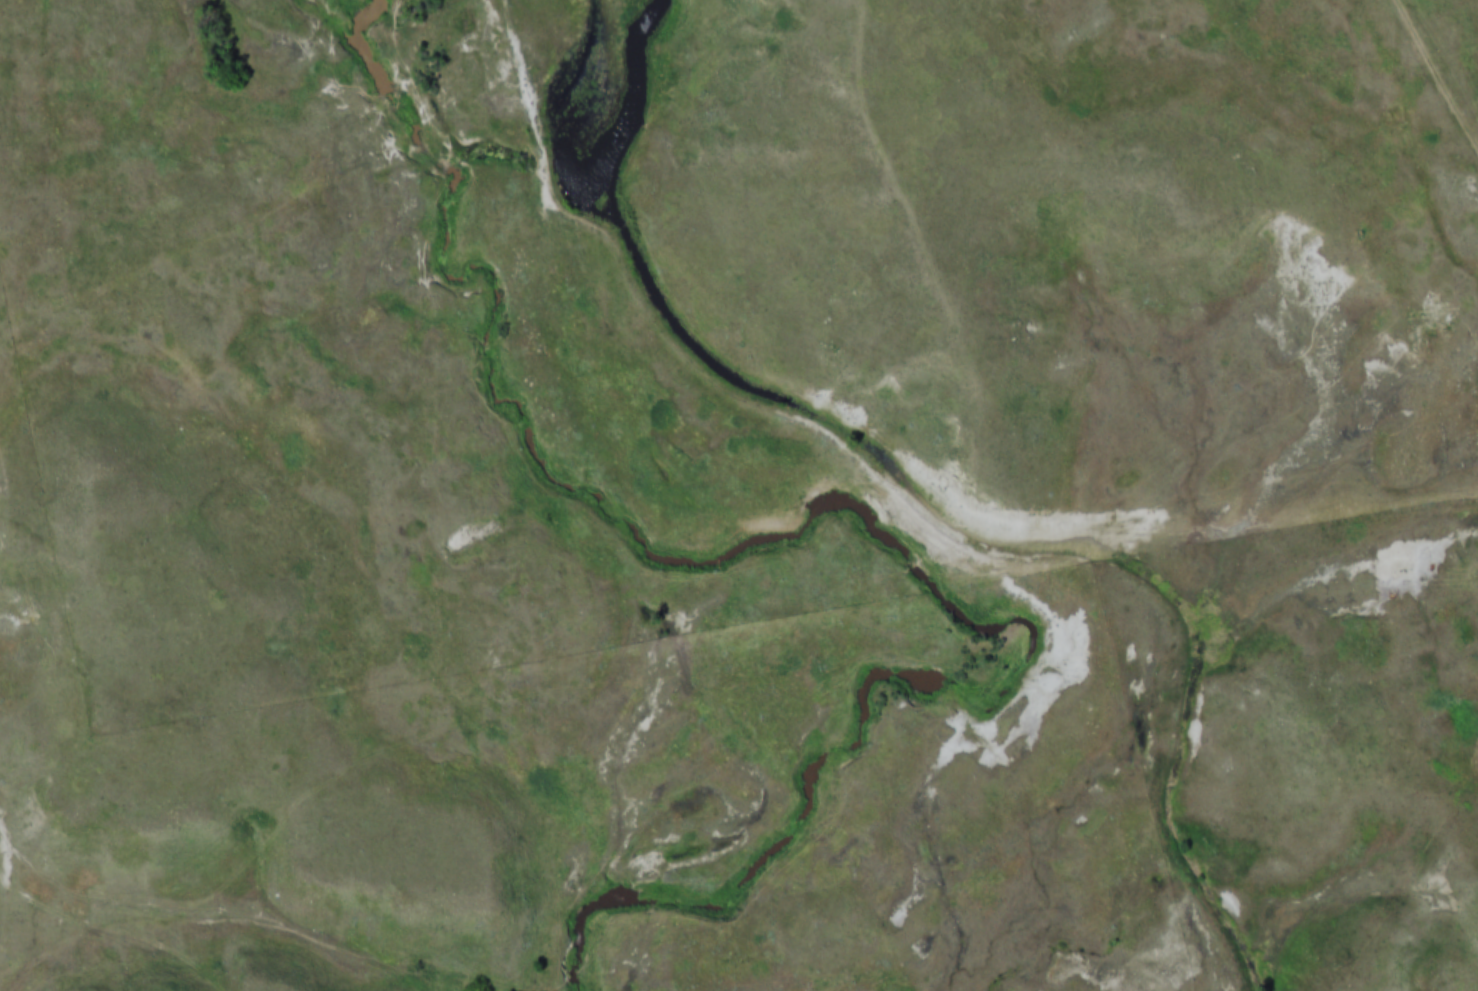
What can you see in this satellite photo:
road: (1444, 68)

